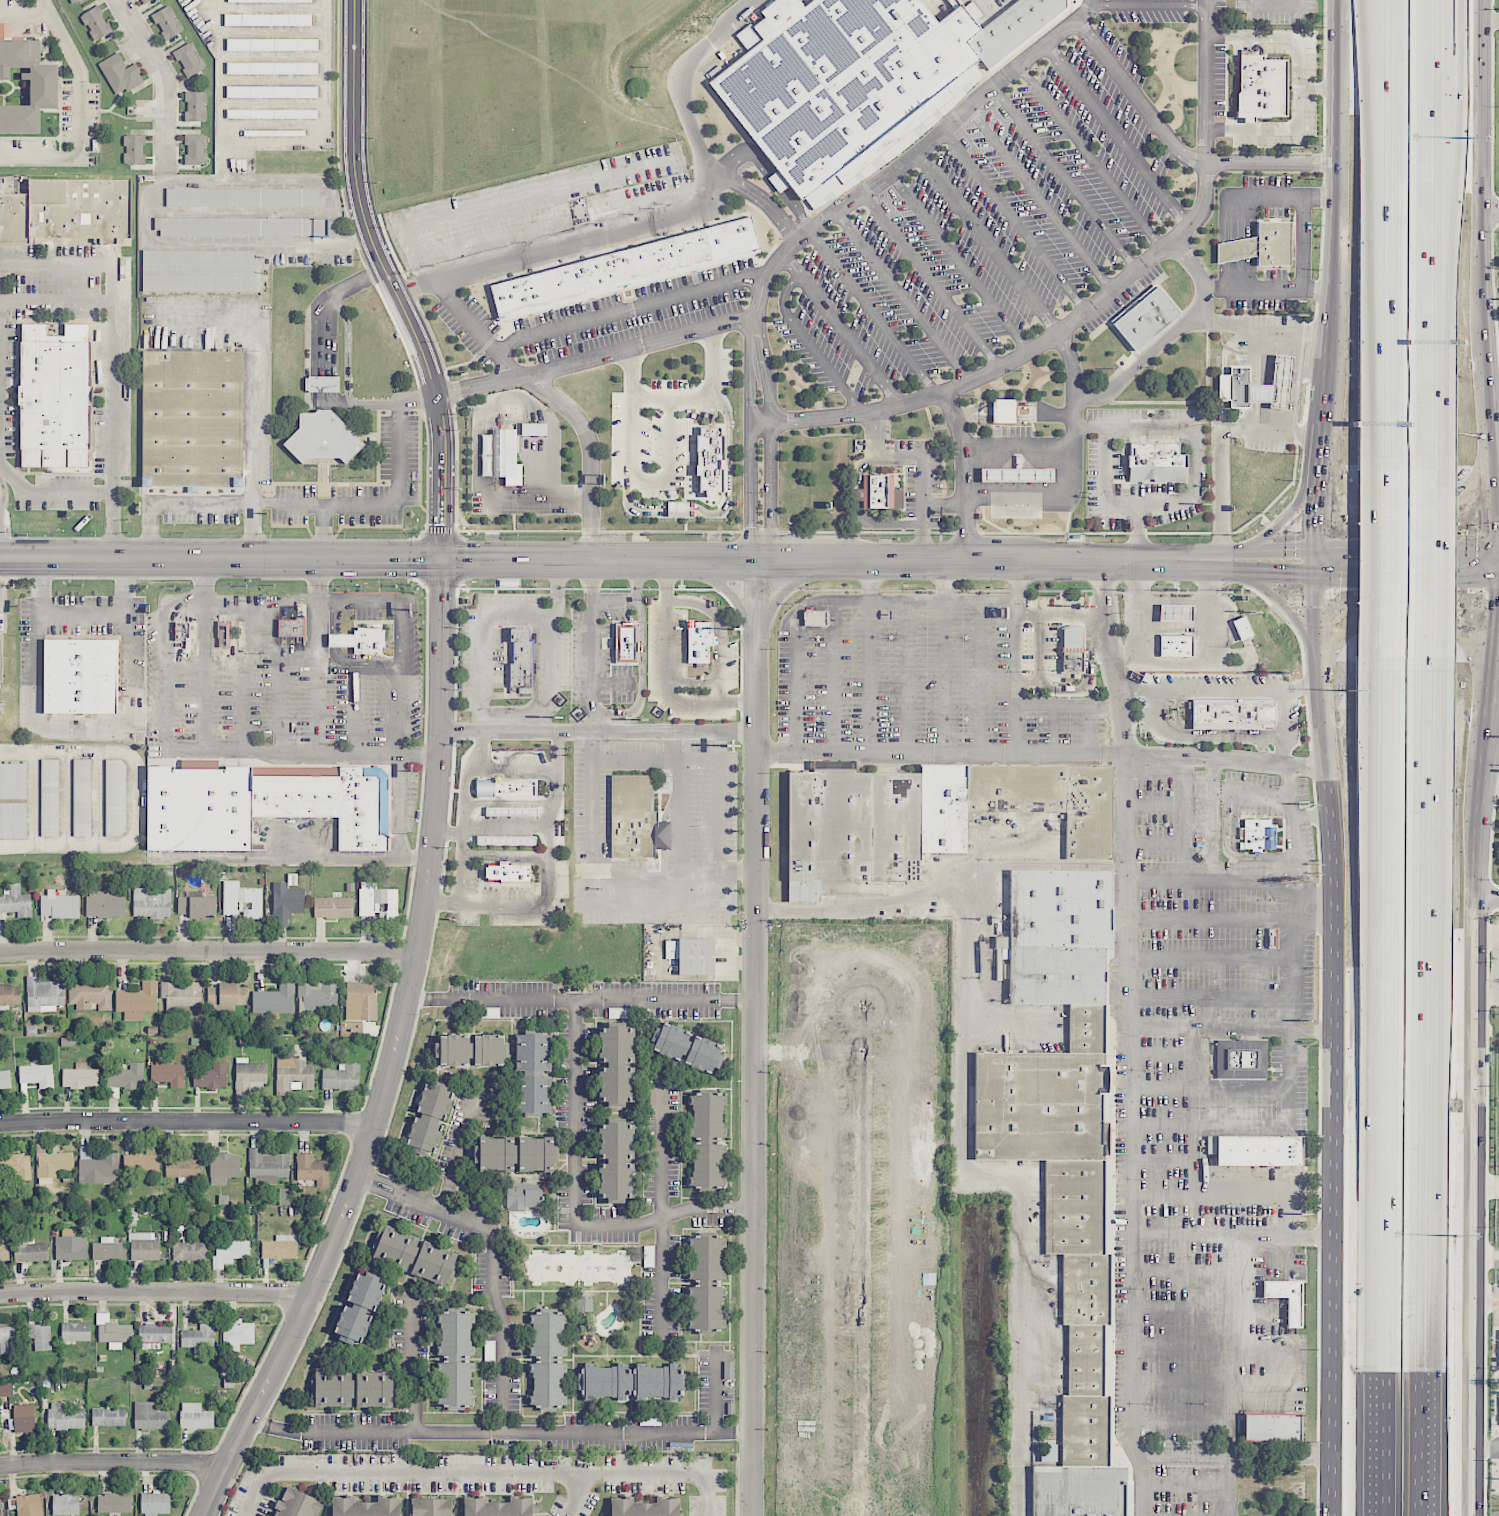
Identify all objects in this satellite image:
building: (74, 1)
building: (146, 1)
building: (274, 1)
road: (1277, 1)
road: (1147, 4)
road: (27, 13)
building: (267, 19)
road: (1488, 19)
building: (167, 22)
building: (96, 23)
building: (1010, 26)
building: (272, 44)
building: (189, 60)
building: (272, 68)
building: (120, 74)
building: (838, 76)
road: (682, 77)
road: (166, 78)
road: (1297, 82)
building: (24, 83)
building: (1261, 85)
road: (1321, 88)
building: (272, 91)
road: (1135, 97)
road: (1477, 105)
building: (195, 106)
building: (271, 114)
road: (84, 115)
road: (1388, 126)
road: (1397, 126)
road: (1117, 133)
building: (134, 149)
building: (195, 149)
road: (1090, 156)
road: (1275, 163)
road: (1345, 166)
road: (891, 168)
road: (771, 176)
road: (1063, 178)
road: (7, 186)
building: (243, 197)
road: (1324, 197)
road: (1039, 199)
road: (1488, 210)
building: (68, 212)
road: (1015, 218)
road: (1230, 218)
road: (1444, 219)
road: (1436, 220)
building: (241, 227)
road: (639, 227)
road: (987, 242)
building: (1273, 244)
building: (1236, 249)
road: (1231, 251)
road: (1303, 256)
road: (958, 261)
road: (1190, 262)
building: (622, 266)
building: (200, 270)
road: (1231, 275)
road: (931, 278)
road: (391, 281)
road: (1321, 290)
road: (902, 296)
road: (1201, 297)
road: (57, 302)
road: (631, 310)
road: (1087, 310)
road: (873, 313)
building: (1146, 317)
road: (1179, 324)
road: (844, 329)
road: (810, 346)
road: (1259, 354)
road: (115, 355)
road: (1332, 355)
road: (325, 357)
road: (597, 357)
road: (1295, 359)
road: (711, 365)
road: (1266, 365)
road: (1282, 367)
road: (1293, 368)
road: (1489, 368)
road: (631, 372)
road: (754, 379)
road: (1395, 380)
building: (322, 384)
building: (1274, 384)
gas station: (1274, 384)
building: (1234, 386)
road: (540, 388)
road: (1273, 388)
road: (1291, 390)
road: (1258, 392)
building: (54, 396)
road: (652, 396)
road: (692, 398)
road: (749, 405)
building: (1003, 409)
road: (1257, 415)
building: (192, 417)
building: (533, 429)
road: (1323, 430)
road: (630, 433)
road: (255, 436)
building: (323, 437)
road: (1221, 442)
road: (1497, 446)
road: (1015, 450)
building: (502, 456)
road: (1195, 456)
road: (670, 457)
building: (710, 460)
building: (1157, 462)
road: (749, 463)
road: (770, 465)
road: (1070, 465)
road: (924, 468)
road: (965, 473)
building: (1015, 473)
gas station: (1015, 473)
road: (1436, 474)
road: (1104, 479)
road: (2, 491)
building: (877, 491)
road: (1498, 491)
road: (52, 492)
road: (541, 495)
road: (946, 502)
road: (314, 503)
road: (721, 512)
road: (1315, 515)
road: (1287, 519)
road: (1405, 526)
road: (326, 531)
traffic signals: (1315, 531)
road: (751, 532)
traffic signals: (1349, 548)
road: (1407, 548)
road: (1257, 549)
traffic signals: (443, 559)
road: (221, 560)
road: (822, 561)
road: (1314, 561)
road: (1393, 567)
road: (1434, 570)
road: (1257, 573)
traffic signals: (1291, 575)
road: (1406, 576)
traffic signals: (1464, 578)
road: (634, 581)
road: (1016, 581)
road: (944, 582)
road: (1402, 598)
traffic signals: (1498, 598)
road: (288, 599)
road: (365, 600)
road: (1173, 601)
road: (1017, 603)
road: (1286, 606)
road: (1136, 608)
building: (1177, 612)
gas station: (1177, 612)
building: (815, 618)
road: (796, 624)
building: (291, 626)
building: (1242, 627)
building: (181, 631)
building: (224, 633)
road: (720, 633)
road: (481, 637)
road: (402, 638)
road: (1497, 639)
building: (361, 640)
road: (590, 642)
building: (626, 642)
building: (699, 642)
building: (1176, 646)
building: (1072, 649)
road: (253, 651)
road: (319, 654)
road: (286, 655)
building: (1, 657)
road: (1206, 659)
building: (521, 660)
road: (360, 666)
road: (549, 668)
road: (1495, 669)
road: (204, 672)
road: (667, 672)
road: (641, 673)
building: (80, 675)
road: (943, 677)
road: (1243, 689)
road: (1139, 691)
road: (279, 703)
road: (1067, 703)
building: (1231, 714)
road: (1493, 714)
road: (81, 722)
road: (596, 723)
road: (1282, 728)
road: (599, 730)
road: (1325, 734)
road: (197, 749)
road: (555, 750)
road: (1043, 753)
building: (516, 771)
road: (465, 778)
road: (1489, 779)
building: (14, 781)
road: (556, 787)
building: (504, 788)
building: (49, 797)
building: (82, 797)
building: (116, 797)
road: (135, 799)
building: (1052, 799)
building: (262, 803)
road: (678, 803)
building: (943, 808)
building: (511, 811)
road: (1313, 815)
building: (633, 817)
road: (550, 818)
road: (402, 819)
building: (13, 820)
building: (853, 825)
road: (1295, 829)
road: (448, 830)
road: (506, 831)
building: (1259, 834)
building: (506, 840)
road: (505, 854)
road: (342, 858)
road: (719, 861)
road: (598, 864)
road: (458, 866)
building: (509, 872)
road: (741, 875)
road: (1216, 888)
road: (1320, 893)
road: (1485, 899)
building: (242, 900)
building: (16, 901)
building: (377, 901)
building: (151, 902)
building: (286, 903)
building: (104, 904)
building: (59, 905)
building: (196, 906)
building: (333, 907)
building: (1060, 908)
road: (524, 909)
road: (1496, 931)
road: (208, 951)
building: (696, 956)
road: (1298, 961)
road: (1497, 966)
building: (1056, 975)
building: (44, 994)
building: (90, 994)
building: (10, 995)
building: (181, 995)
building: (317, 995)
building: (226, 997)
road: (583, 999)
building: (275, 1000)
building: (361, 1000)
building: (137, 1001)
building: (1086, 1027)
road: (1233, 1029)
road: (756, 1038)
road: (1133, 1038)
building: (686, 1047)
building: (471, 1049)
road: (396, 1056)
road: (1472, 1056)
building: (1241, 1059)
building: (616, 1065)
road: (1389, 1071)
building: (168, 1073)
road: (1419, 1073)
building: (533, 1074)
building: (37, 1075)
building: (293, 1075)
building: (126, 1076)
building: (211, 1076)
building: (80, 1077)
building: (341, 1077)
building: (248, 1078)
building: (5, 1079)
building: (1039, 1105)
building: (428, 1119)
road: (188, 1122)
road: (1192, 1126)
road: (961, 1139)
building: (708, 1140)
building: (1254, 1149)
road: (457, 1150)
road: (660, 1151)
building: (516, 1154)
building: (615, 1160)
building: (52, 1162)
building: (141, 1163)
building: (19, 1165)
building: (184, 1166)
building: (267, 1166)
building: (224, 1167)
building: (98, 1168)
building: (312, 1169)
building: (523, 1195)
building: (284, 1196)
road: (573, 1201)
road: (1334, 1205)
building: (1074, 1206)
road: (1185, 1232)
building: (70, 1246)
building: (144, 1246)
building: (280, 1247)
building: (109, 1249)
building: (189, 1251)
building: (229, 1251)
building: (4, 1252)
building: (31, 1252)
building: (415, 1254)
road: (1485, 1257)
road: (496, 1259)
building: (578, 1268)
road: (661, 1275)
building: (706, 1283)
building: (1085, 1288)
road: (156, 1292)
road: (1485, 1297)
building: (1287, 1298)
building: (360, 1307)
road: (1233, 1324)
building: (236, 1330)
building: (75, 1331)
building: (113, 1331)
building: (155, 1333)
building: (39, 1336)
building: (198, 1336)
building: (7, 1340)
building: (455, 1358)
building: (547, 1359)
building: (1082, 1360)
road: (411, 1366)
building: (631, 1381)
building: (6, 1388)
building: (353, 1388)
road: (716, 1390)
building: (150, 1416)
building: (195, 1416)
building: (65, 1417)
building: (108, 1417)
building: (23, 1418)
building: (1271, 1426)
road: (502, 1430)
building: (1083, 1430)
road: (1486, 1447)
building: (1048, 1454)
road: (1238, 1454)
road: (112, 1463)
road: (479, 1474)
building: (1077, 1490)
road: (576, 1495)
building: (114, 1503)
building: (155, 1503)
building: (65, 1504)
building: (297, 1504)
building: (365, 1506)
building: (431, 1507)
building: (497, 1507)
building: (644, 1507)

